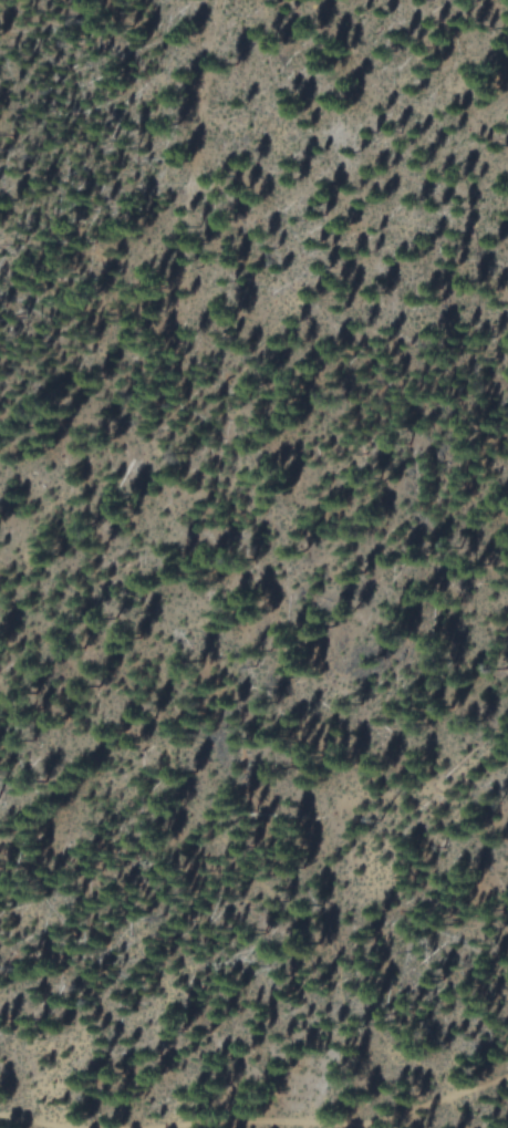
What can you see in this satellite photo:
road: (448, 1096)
road: (196, 1122)

